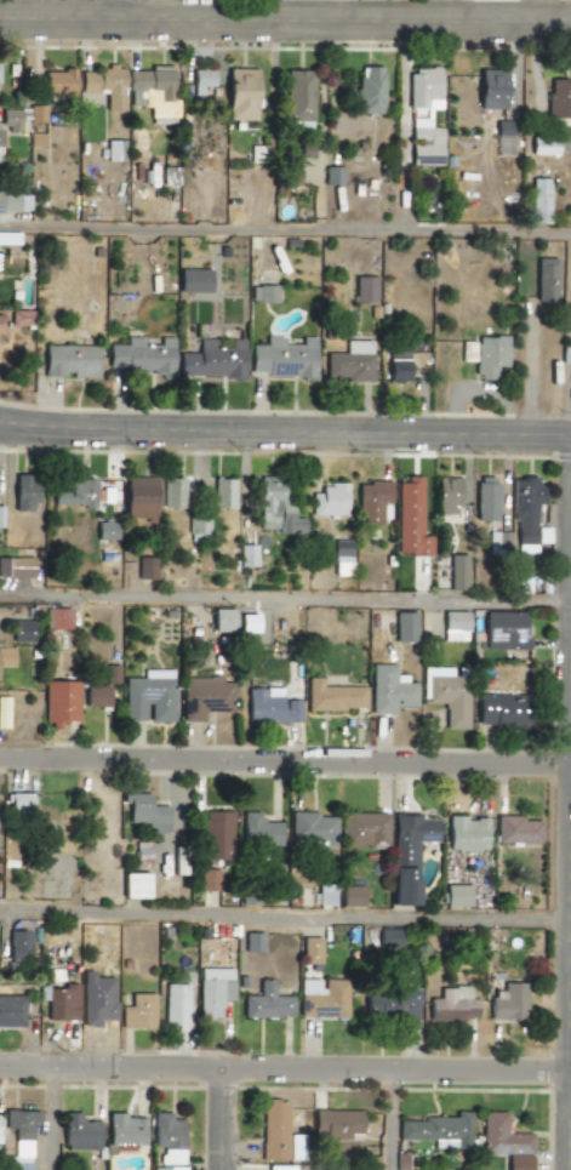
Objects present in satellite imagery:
road: (285, 18)
building: (200, 81)
building: (57, 84)
building: (103, 86)
building: (421, 86)
building: (369, 90)
building: (489, 90)
building: (152, 93)
building: (239, 95)
building: (297, 95)
building: (559, 101)
building: (36, 114)
building: (10, 120)
building: (502, 138)
building: (35, 141)
building: (423, 144)
building: (542, 147)
building: (303, 149)
building: (113, 150)
building: (332, 176)
building: (538, 201)
building: (13, 204)
road: (285, 228)
building: (1, 239)
building: (543, 280)
building: (193, 281)
building: (364, 290)
building: (262, 295)
building: (19, 318)
building: (1, 325)
building: (466, 352)
building: (138, 356)
building: (489, 356)
building: (565, 358)
building: (280, 359)
building: (211, 360)
building: (69, 361)
building: (348, 364)
building: (396, 366)
road: (285, 430)
building: (22, 492)
building: (171, 492)
building: (222, 492)
building: (72, 493)
building: (485, 493)
building: (445, 495)
building: (137, 497)
building: (327, 500)
building: (370, 501)
building: (273, 507)
building: (526, 515)
building: (0, 516)
building: (407, 519)
building: (196, 529)
building: (104, 531)
building: (498, 542)
building: (246, 555)
building: (339, 557)
building: (15, 567)
building: (144, 567)
building: (457, 571)
road: (285, 598)
building: (56, 618)
building: (219, 620)
building: (453, 626)
building: (404, 627)
building: (503, 630)
building: (5, 657)
building: (110, 674)
building: (387, 690)
building: (446, 695)
building: (95, 696)
building: (147, 696)
building: (331, 696)
building: (202, 697)
building: (58, 702)
building: (269, 706)
building: (498, 710)
building: (2, 712)
road: (285, 758)
building: (16, 803)
building: (143, 812)
building: (309, 827)
building: (362, 829)
building: (515, 829)
building: (257, 831)
building: (464, 833)
building: (213, 834)
building: (410, 837)
building: (177, 863)
building: (207, 879)
building: (132, 885)
building: (400, 885)
building: (324, 894)
building: (350, 896)
building: (455, 896)
road: (285, 915)
building: (387, 938)
building: (252, 942)
building: (17, 944)
building: (309, 951)
building: (212, 991)
building: (320, 998)
building: (95, 999)
building: (508, 1001)
building: (59, 1003)
building: (265, 1003)
building: (388, 1004)
building: (451, 1005)
building: (175, 1006)
building: (11, 1011)
building: (137, 1012)
road: (285, 1067)
road: (56, 1118)
road: (222, 1118)
road: (394, 1118)
road: (570, 1119)
building: (0, 1124)
building: (21, 1124)
building: (335, 1124)
building: (122, 1130)
building: (272, 1130)
building: (436, 1130)
building: (79, 1132)
building: (499, 1136)
building: (167, 1141)
building: (291, 1147)
building: (516, 1162)
building: (278, 1168)

